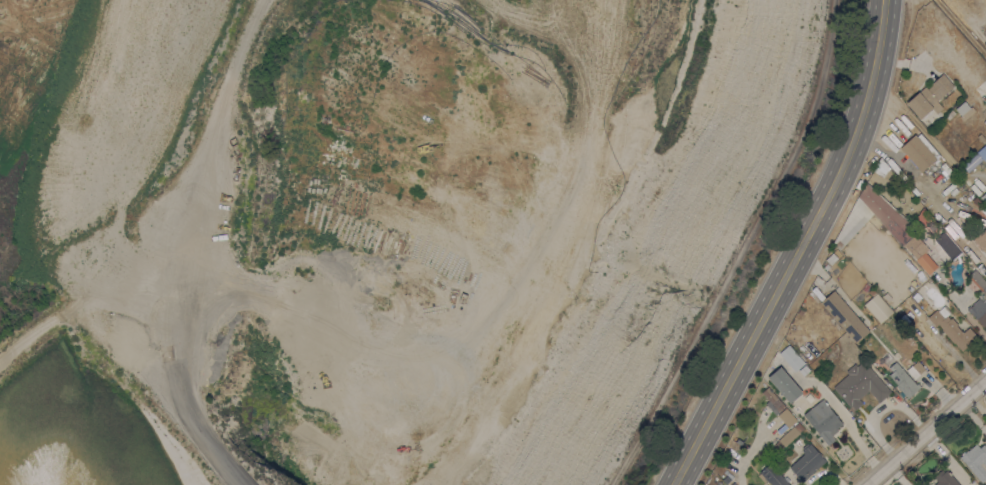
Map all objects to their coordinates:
road: (963, 17)
building: (929, 96)
building: (965, 110)
road: (195, 113)
building: (981, 137)
building: (919, 151)
building: (975, 159)
building: (984, 197)
building: (885, 215)
building: (922, 215)
building: (853, 222)
building: (932, 227)
quarry: (381, 230)
building: (981, 239)
building: (914, 245)
building: (948, 246)
road: (800, 250)
building: (832, 255)
building: (926, 262)
building: (826, 266)
road: (93, 270)
building: (979, 299)
building: (877, 306)
building: (844, 316)
road: (486, 322)
building: (952, 328)
building: (796, 349)
building: (791, 358)
building: (915, 369)
building: (803, 370)
road: (173, 375)
building: (902, 380)
building: (784, 384)
building: (860, 384)
building: (772, 400)
building: (785, 413)
building: (823, 420)
road: (926, 433)
building: (788, 435)
building: (976, 460)
building: (807, 461)
building: (773, 475)
building: (944, 478)
building: (726, 479)

